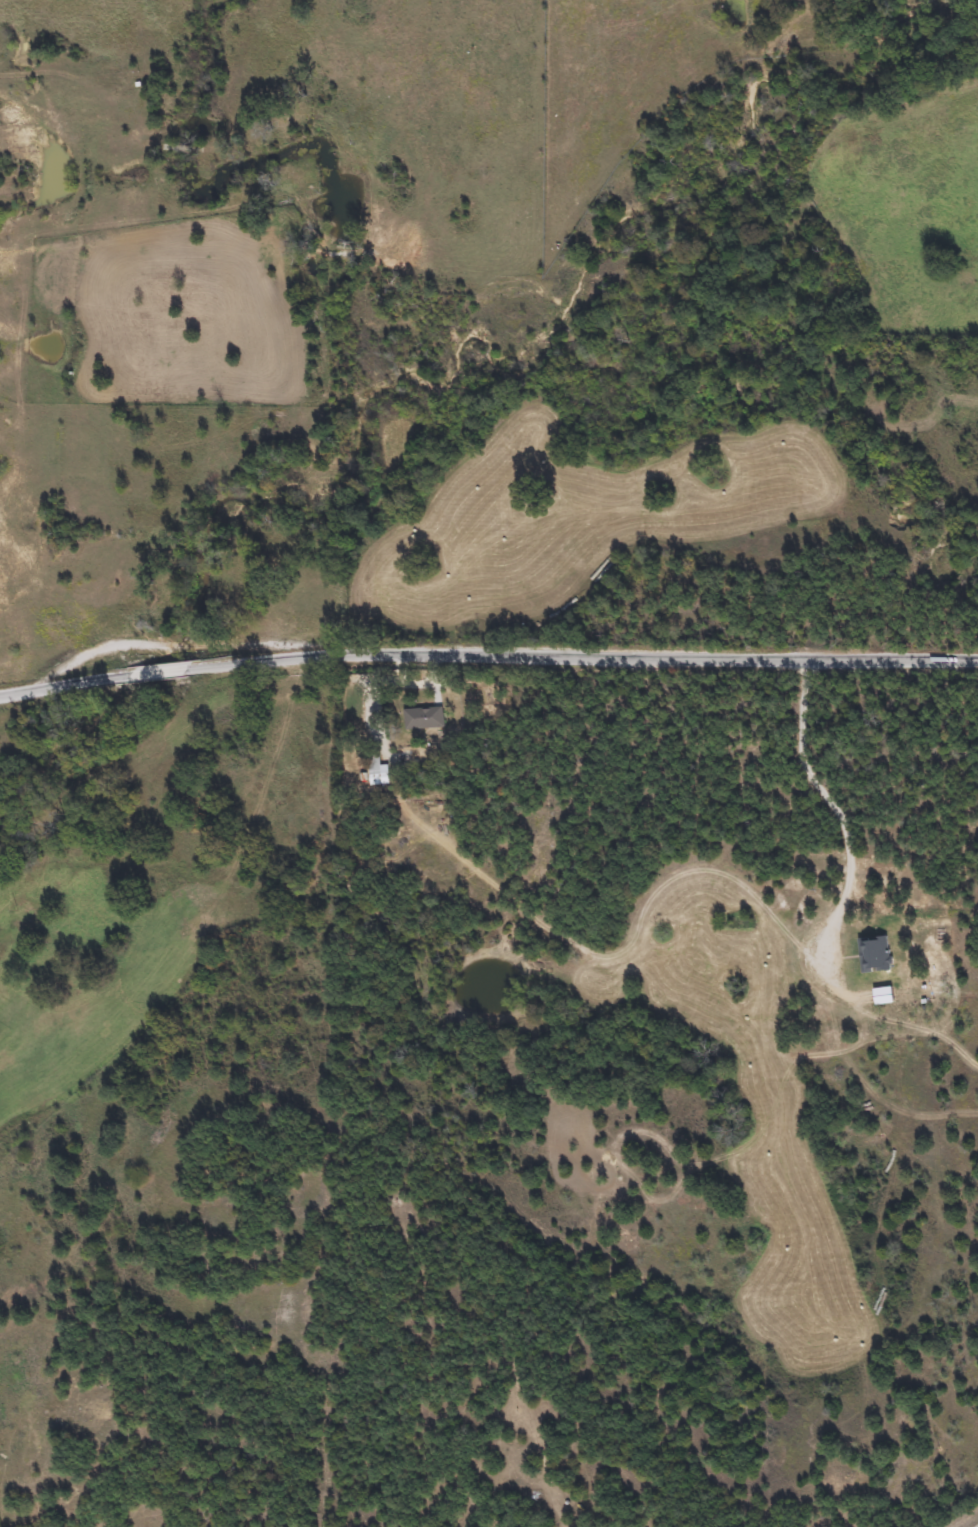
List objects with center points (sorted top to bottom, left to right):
road: (486, 647)
building: (423, 718)
building: (377, 771)

